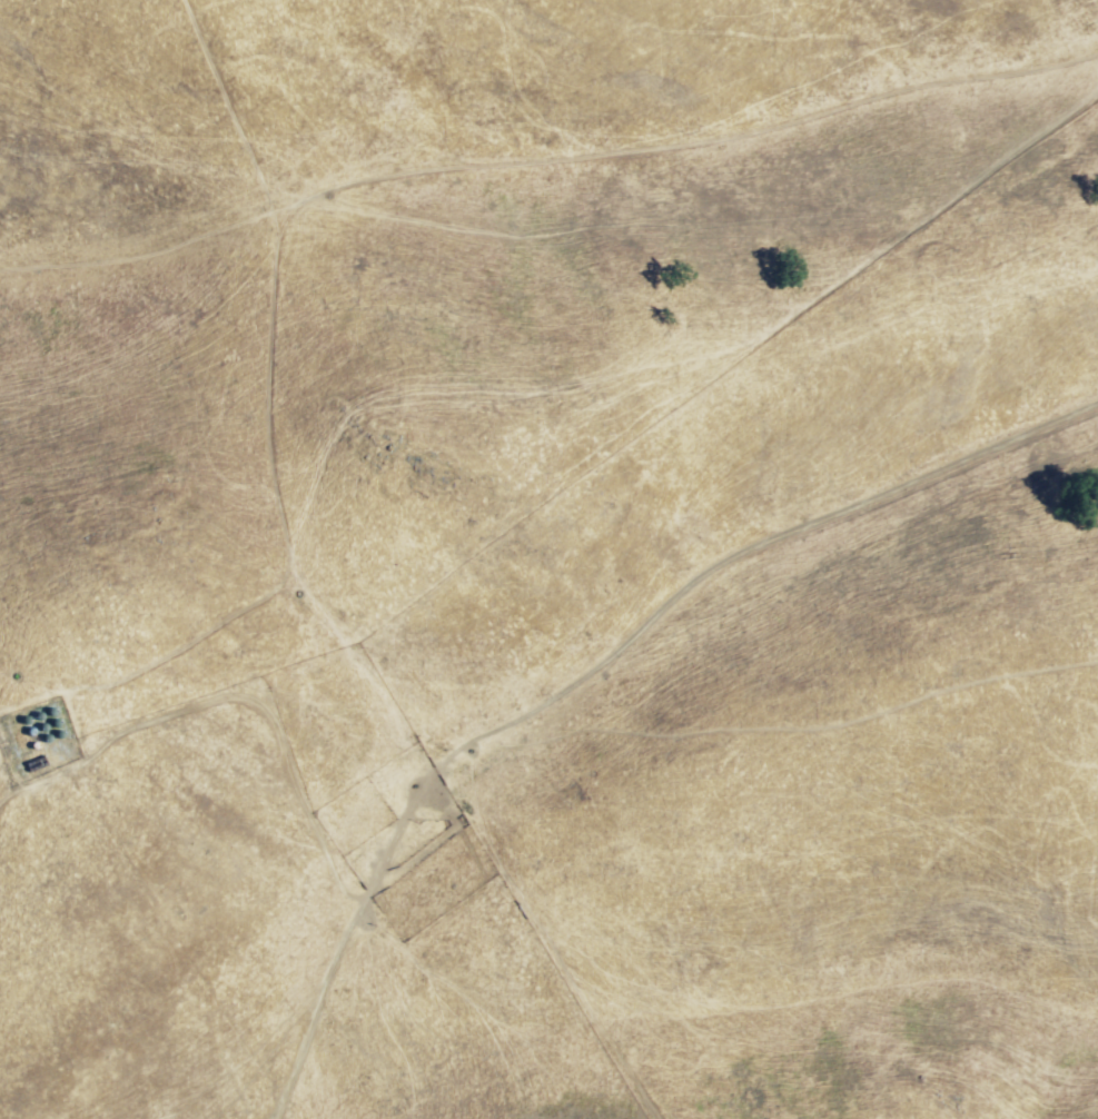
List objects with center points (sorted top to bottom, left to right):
road: (588, 667)

